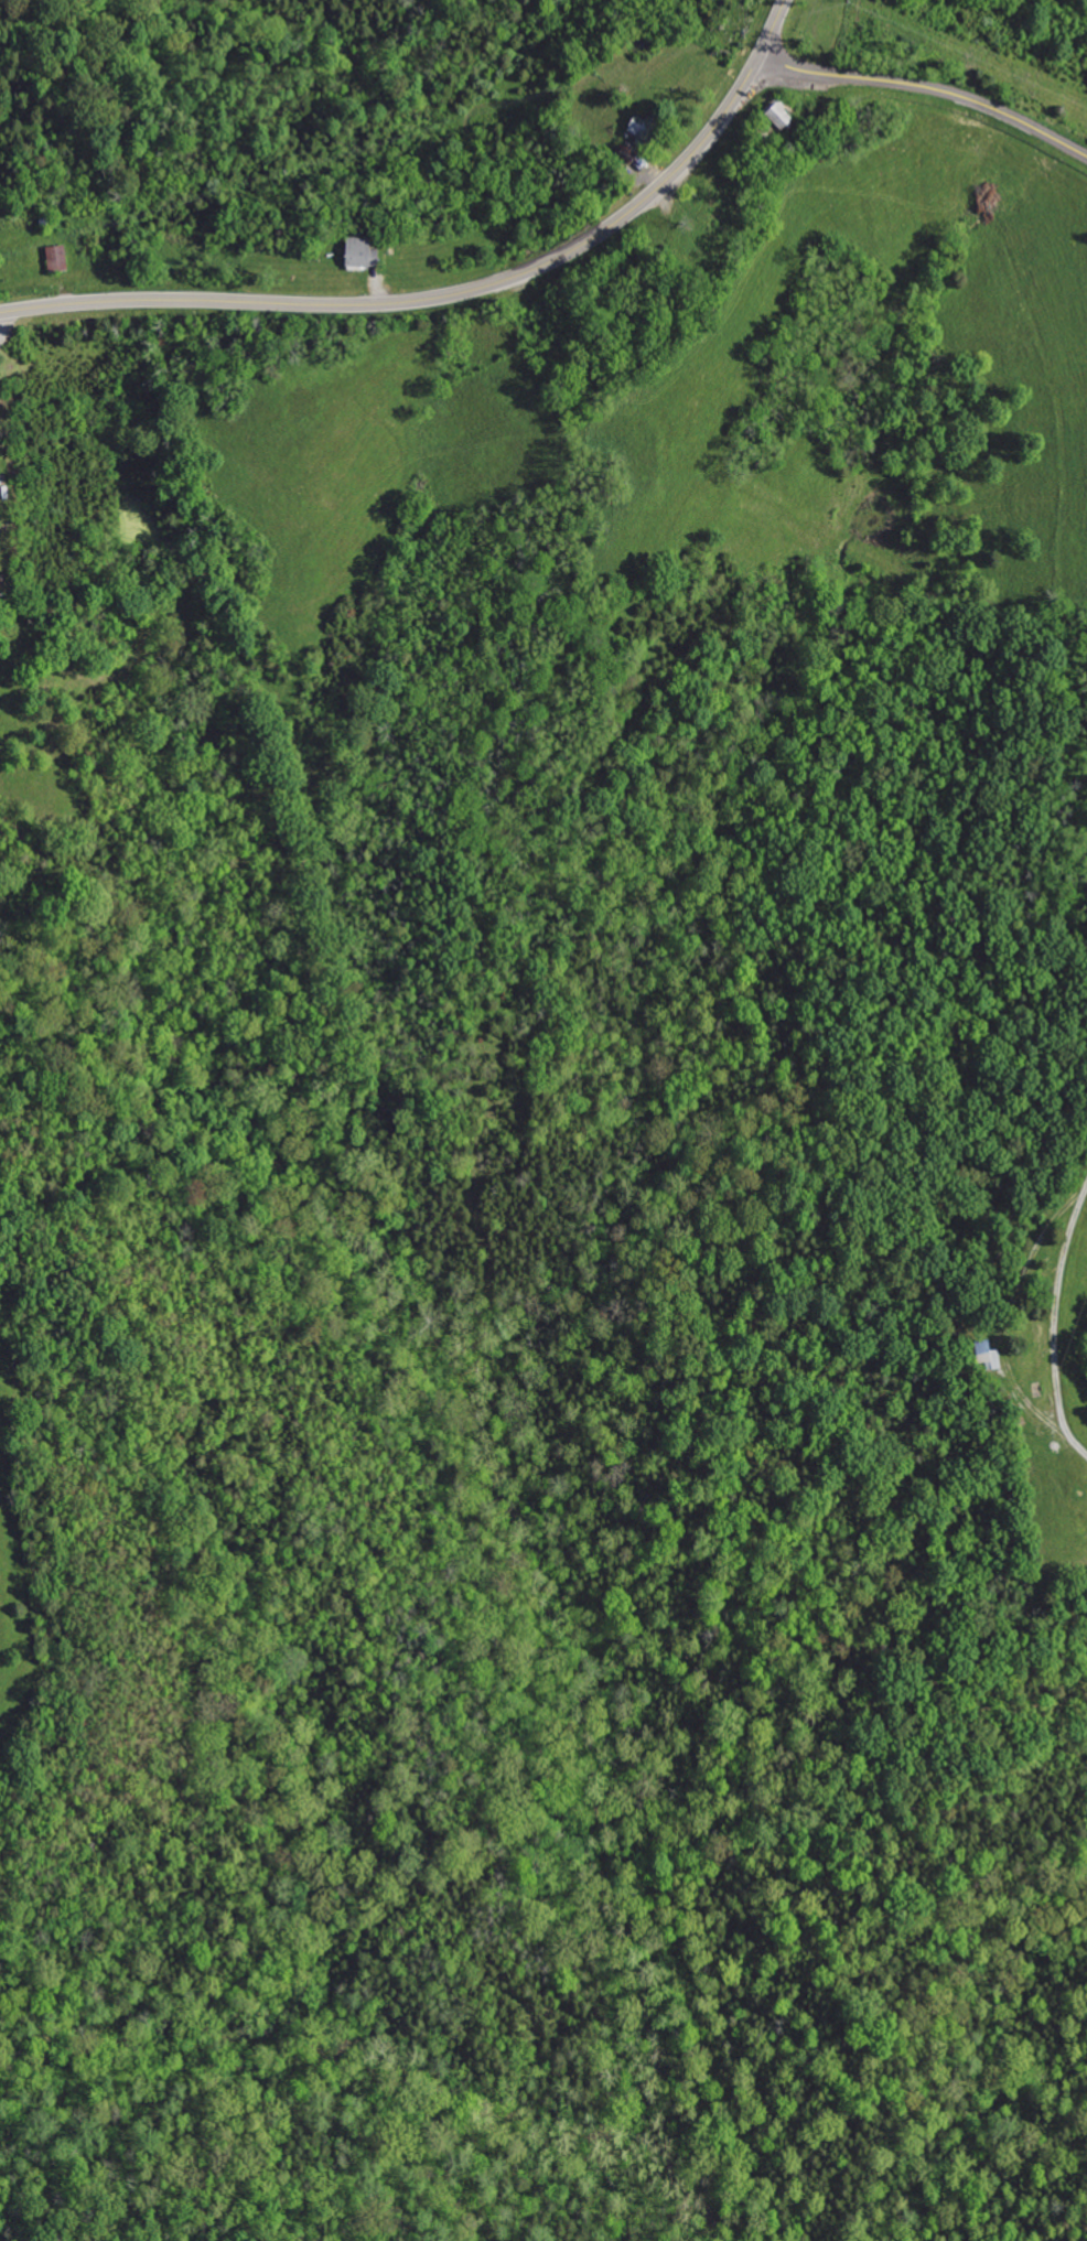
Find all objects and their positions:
road: (773, 26)
road: (928, 88)
building: (646, 128)
building: (367, 252)
building: (61, 258)
road: (428, 298)
road: (1052, 1270)
building: (984, 1356)

